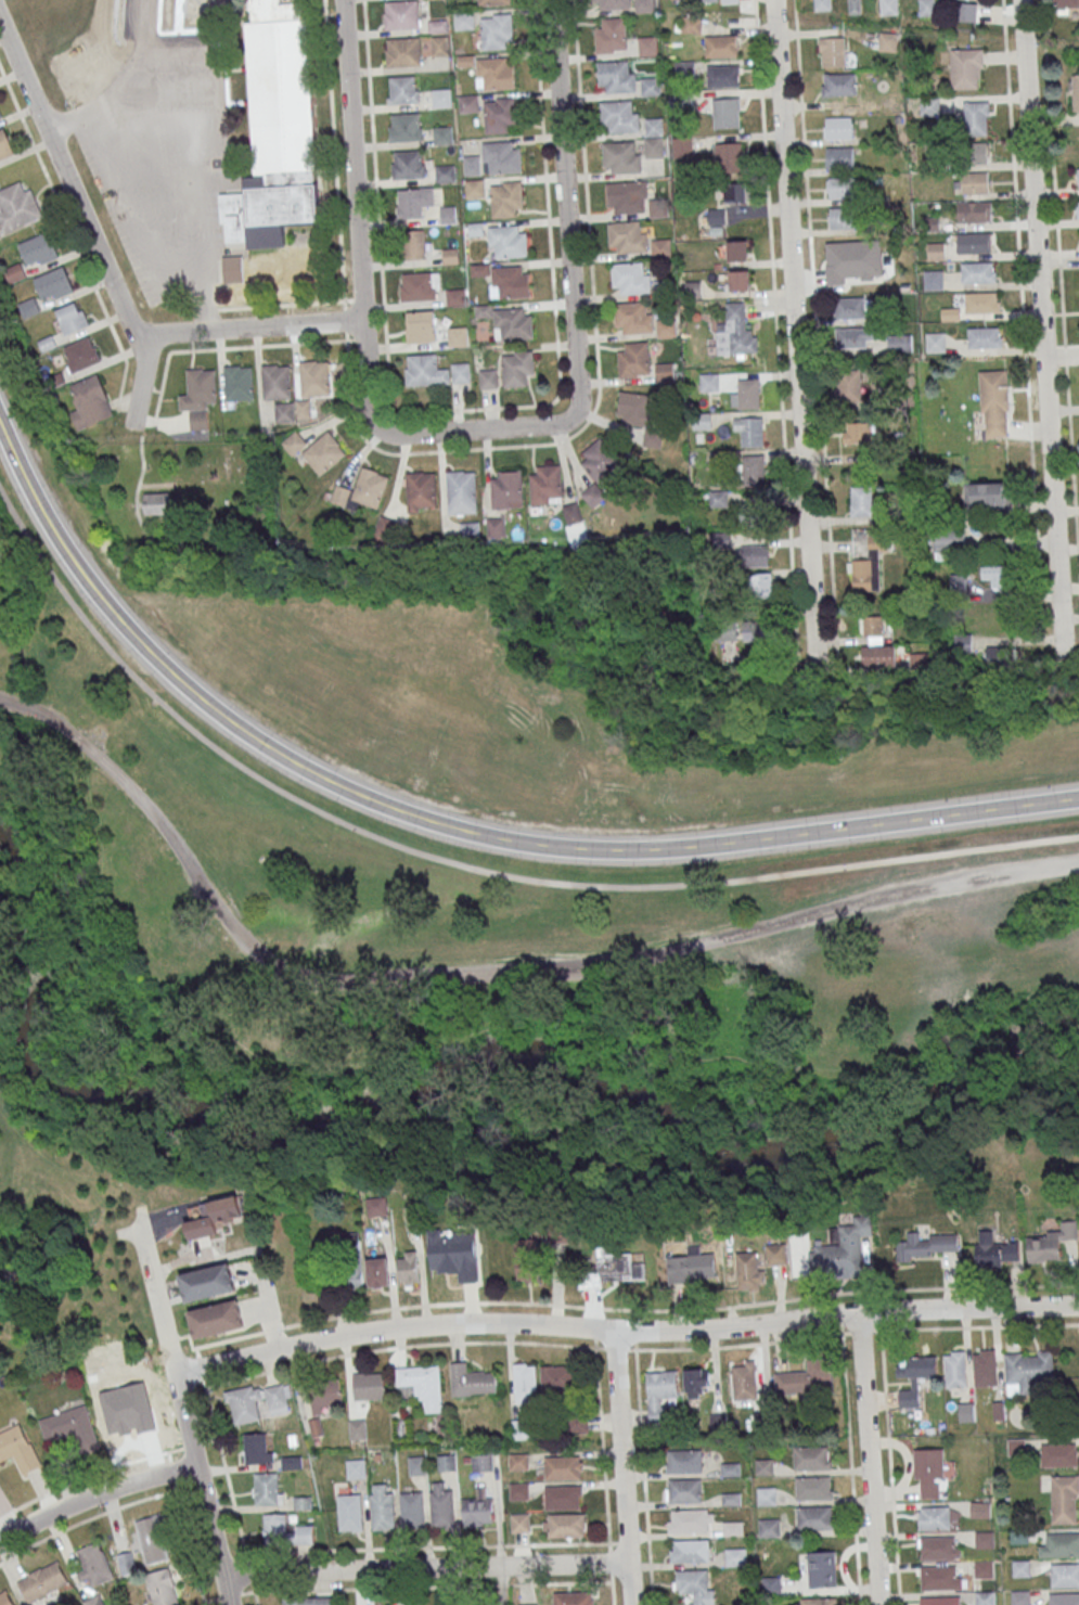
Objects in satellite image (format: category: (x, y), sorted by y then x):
building: (709, 0)
building: (731, 0)
building: (492, 2)
building: (612, 3)
building: (1066, 3)
building: (644, 5)
building: (822, 5)
building: (855, 7)
building: (889, 7)
building: (927, 8)
building: (967, 12)
building: (400, 14)
building: (463, 20)
road: (157, 22)
building: (692, 24)
building: (436, 25)
road: (143, 28)
building: (496, 30)
building: (611, 35)
building: (887, 41)
building: (647, 44)
building: (439, 46)
building: (720, 46)
building: (402, 51)
building: (836, 53)
building: (465, 60)
power substation: (84, 65)
building: (684, 67)
building: (967, 68)
building: (496, 73)
building: (615, 76)
building: (722, 76)
building: (838, 84)
building: (650, 86)
building: (402, 89)
building: (1075, 92)
building: (440, 97)
road: (160, 99)
road: (101, 102)
building: (467, 103)
road: (204, 106)
building: (929, 106)
building: (725, 112)
building: (499, 114)
building: (0, 115)
building: (618, 116)
road: (183, 118)
building: (976, 118)
building: (654, 126)
building: (403, 127)
building: (837, 127)
building: (441, 133)
building: (653, 146)
building: (681, 146)
building: (4, 149)
building: (273, 153)
building: (973, 153)
building: (501, 157)
building: (620, 157)
building: (728, 157)
building: (838, 157)
building: (407, 165)
building: (471, 165)
parking lot: (166, 169)
building: (444, 174)
building: (1078, 178)
road: (68, 181)
building: (974, 181)
building: (840, 187)
building: (474, 188)
building: (735, 192)
building: (626, 195)
building: (505, 198)
building: (413, 201)
road: (172, 203)
building: (657, 207)
building: (1077, 208)
road: (567, 209)
building: (16, 210)
building: (974, 211)
building: (448, 214)
road: (134, 218)
building: (840, 218)
road: (194, 223)
road: (69, 229)
building: (475, 229)
building: (626, 236)
building: (506, 241)
building: (973, 243)
building: (413, 244)
building: (660, 247)
building: (736, 251)
building: (935, 251)
building: (38, 253)
building: (450, 256)
building: (852, 259)
building: (479, 269)
building: (976, 272)
building: (629, 278)
building: (932, 279)
building: (738, 280)
building: (510, 281)
road: (1061, 282)
building: (53, 286)
building: (416, 286)
building: (692, 290)
building: (454, 296)
road: (357, 298)
building: (980, 301)
road: (283, 303)
building: (29, 306)
road: (211, 308)
building: (851, 308)
building: (481, 310)
road: (362, 313)
building: (72, 317)
building: (631, 317)
road: (1023, 321)
building: (512, 323)
road: (815, 324)
road: (257, 326)
building: (420, 326)
building: (665, 328)
road: (776, 328)
building: (735, 332)
road: (1041, 334)
building: (457, 336)
building: (855, 336)
road: (360, 337)
road: (795, 337)
building: (984, 337)
building: (935, 342)
building: (896, 344)
road: (230, 346)
building: (81, 354)
building: (632, 359)
building: (516, 367)
building: (424, 370)
building: (664, 371)
building: (459, 372)
building: (487, 378)
building: (708, 381)
road: (141, 382)
building: (313, 382)
building: (275, 385)
building: (849, 385)
building: (237, 386)
building: (198, 393)
building: (747, 393)
road: (119, 398)
road: (125, 399)
building: (993, 400)
building: (89, 406)
road: (467, 408)
building: (633, 408)
building: (303, 412)
building: (283, 415)
road: (154, 419)
building: (701, 421)
road: (158, 422)
building: (198, 423)
building: (750, 432)
building: (858, 432)
building: (653, 437)
building: (293, 442)
road: (467, 448)
building: (323, 452)
building: (600, 461)
building: (754, 468)
building: (547, 484)
road: (138, 489)
building: (506, 489)
building: (362, 490)
building: (421, 491)
building: (461, 491)
building: (593, 495)
building: (988, 496)
building: (718, 498)
building: (862, 500)
building: (156, 506)
building: (573, 513)
building: (754, 513)
building: (385, 526)
building: (496, 526)
building: (471, 529)
building: (949, 538)
building: (720, 541)
building: (755, 555)
building: (869, 565)
building: (998, 575)
building: (762, 585)
building: (876, 645)
building: (998, 656)
road: (56, 690)
park: (527, 705)
road: (454, 829)
road: (463, 865)
parking lot: (969, 882)
road: (486, 971)
park: (464, 1025)
road: (424, 1049)
river: (441, 1076)
road: (73, 1151)
building: (378, 1207)
building: (214, 1218)
road: (129, 1232)
building: (561, 1233)
building: (1051, 1242)
building: (928, 1244)
building: (993, 1250)
building: (840, 1253)
building: (776, 1254)
building: (355, 1259)
building: (527, 1259)
building: (698, 1262)
building: (466, 1264)
building: (609, 1267)
building: (409, 1269)
building: (747, 1270)
building: (377, 1273)
building: (207, 1283)
road: (503, 1302)
building: (216, 1320)
road: (624, 1328)
road: (631, 1348)
road: (293, 1365)
building: (985, 1368)
road: (884, 1369)
building: (955, 1369)
building: (1028, 1371)
building: (914, 1376)
building: (807, 1377)
building: (471, 1379)
building: (555, 1379)
building: (697, 1381)
building: (744, 1381)
building: (525, 1382)
building: (423, 1386)
building: (368, 1387)
building: (660, 1394)
building: (324, 1397)
building: (279, 1399)
building: (244, 1405)
road: (181, 1408)
building: (128, 1411)
building: (966, 1411)
building: (579, 1424)
building: (69, 1428)
building: (316, 1428)
building: (519, 1428)
building: (358, 1429)
building: (257, 1449)
building: (17, 1450)
building: (1058, 1454)
building: (811, 1458)
road: (868, 1459)
building: (518, 1461)
building: (683, 1461)
building: (291, 1463)
building: (447, 1463)
building: (481, 1463)
building: (416, 1466)
building: (563, 1466)
road: (621, 1466)
building: (763, 1466)
building: (730, 1468)
building: (356, 1469)
road: (851, 1469)
building: (929, 1472)
road: (91, 1474)
road: (604, 1475)
road: (644, 1477)
building: (813, 1488)
building: (268, 1489)
building: (683, 1490)
building: (518, 1491)
road: (94, 1495)
building: (767, 1495)
building: (563, 1497)
building: (1064, 1498)
building: (439, 1510)
building: (980, 1510)
building: (381, 1511)
building: (410, 1511)
building: (478, 1511)
building: (348, 1513)
road: (97, 1516)
building: (815, 1517)
building: (937, 1517)
building: (689, 1520)
building: (519, 1521)
building: (564, 1525)
building: (732, 1527)
building: (769, 1527)
building: (274, 1528)
building: (305, 1535)
building: (984, 1539)
building: (152, 1540)
building: (1061, 1544)
road: (427, 1548)
building: (938, 1548)
building: (690, 1551)
building: (88, 1553)
building: (734, 1556)
road: (425, 1568)
building: (822, 1568)
building: (1020, 1568)
building: (984, 1569)
building: (87, 1575)
building: (1065, 1575)
building: (939, 1577)
building: (42, 1581)
building: (771, 1584)
building: (695, 1585)
road: (433, 1587)
building: (163, 1588)
building: (573, 1597)
building: (985, 1597)
building: (1020, 1597)
building: (4, 1598)
building: (1064, 1598)
building: (939, 1600)
building: (93, 1601)
building: (307, 1601)
building: (818, 1601)
building: (528, 1604)

